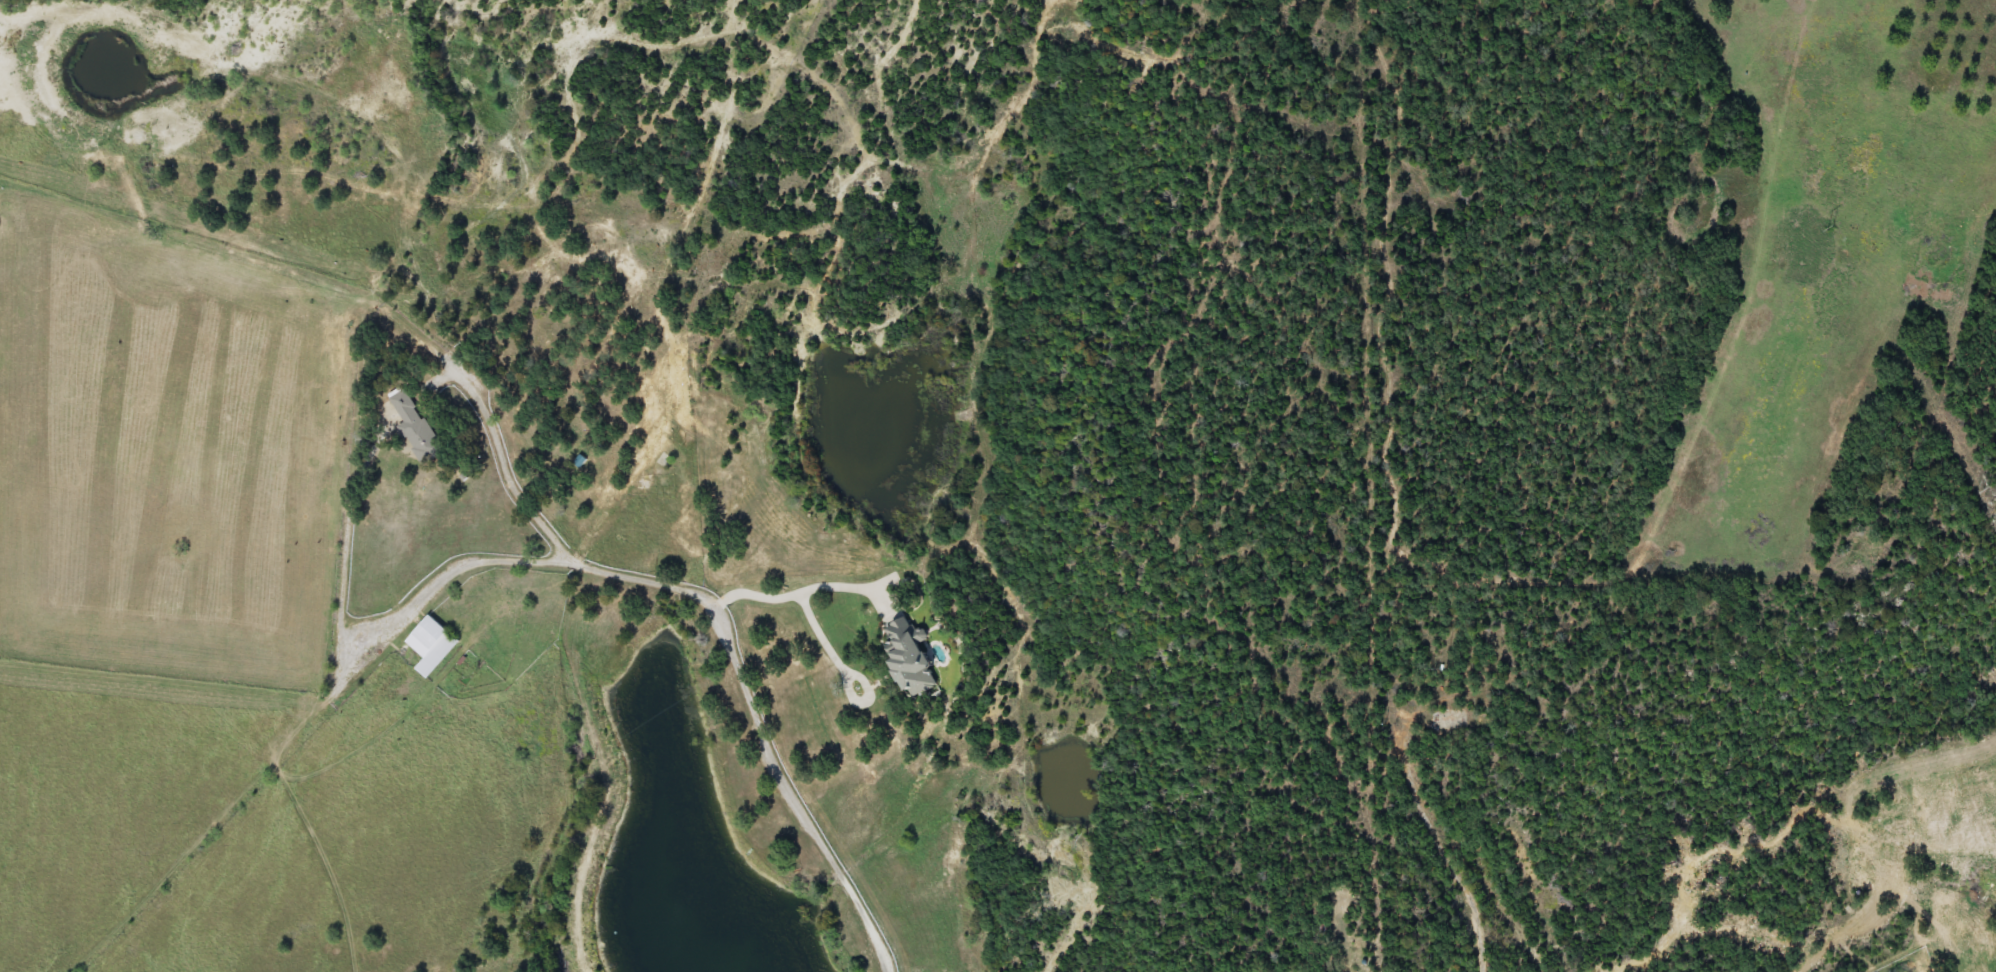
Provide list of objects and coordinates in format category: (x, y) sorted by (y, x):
power tower: (1823, 226)
building: (415, 420)
road: (510, 469)
power tower: (1975, 490)
road: (460, 565)
road: (803, 601)
building: (430, 641)
building: (913, 651)
road: (758, 729)

